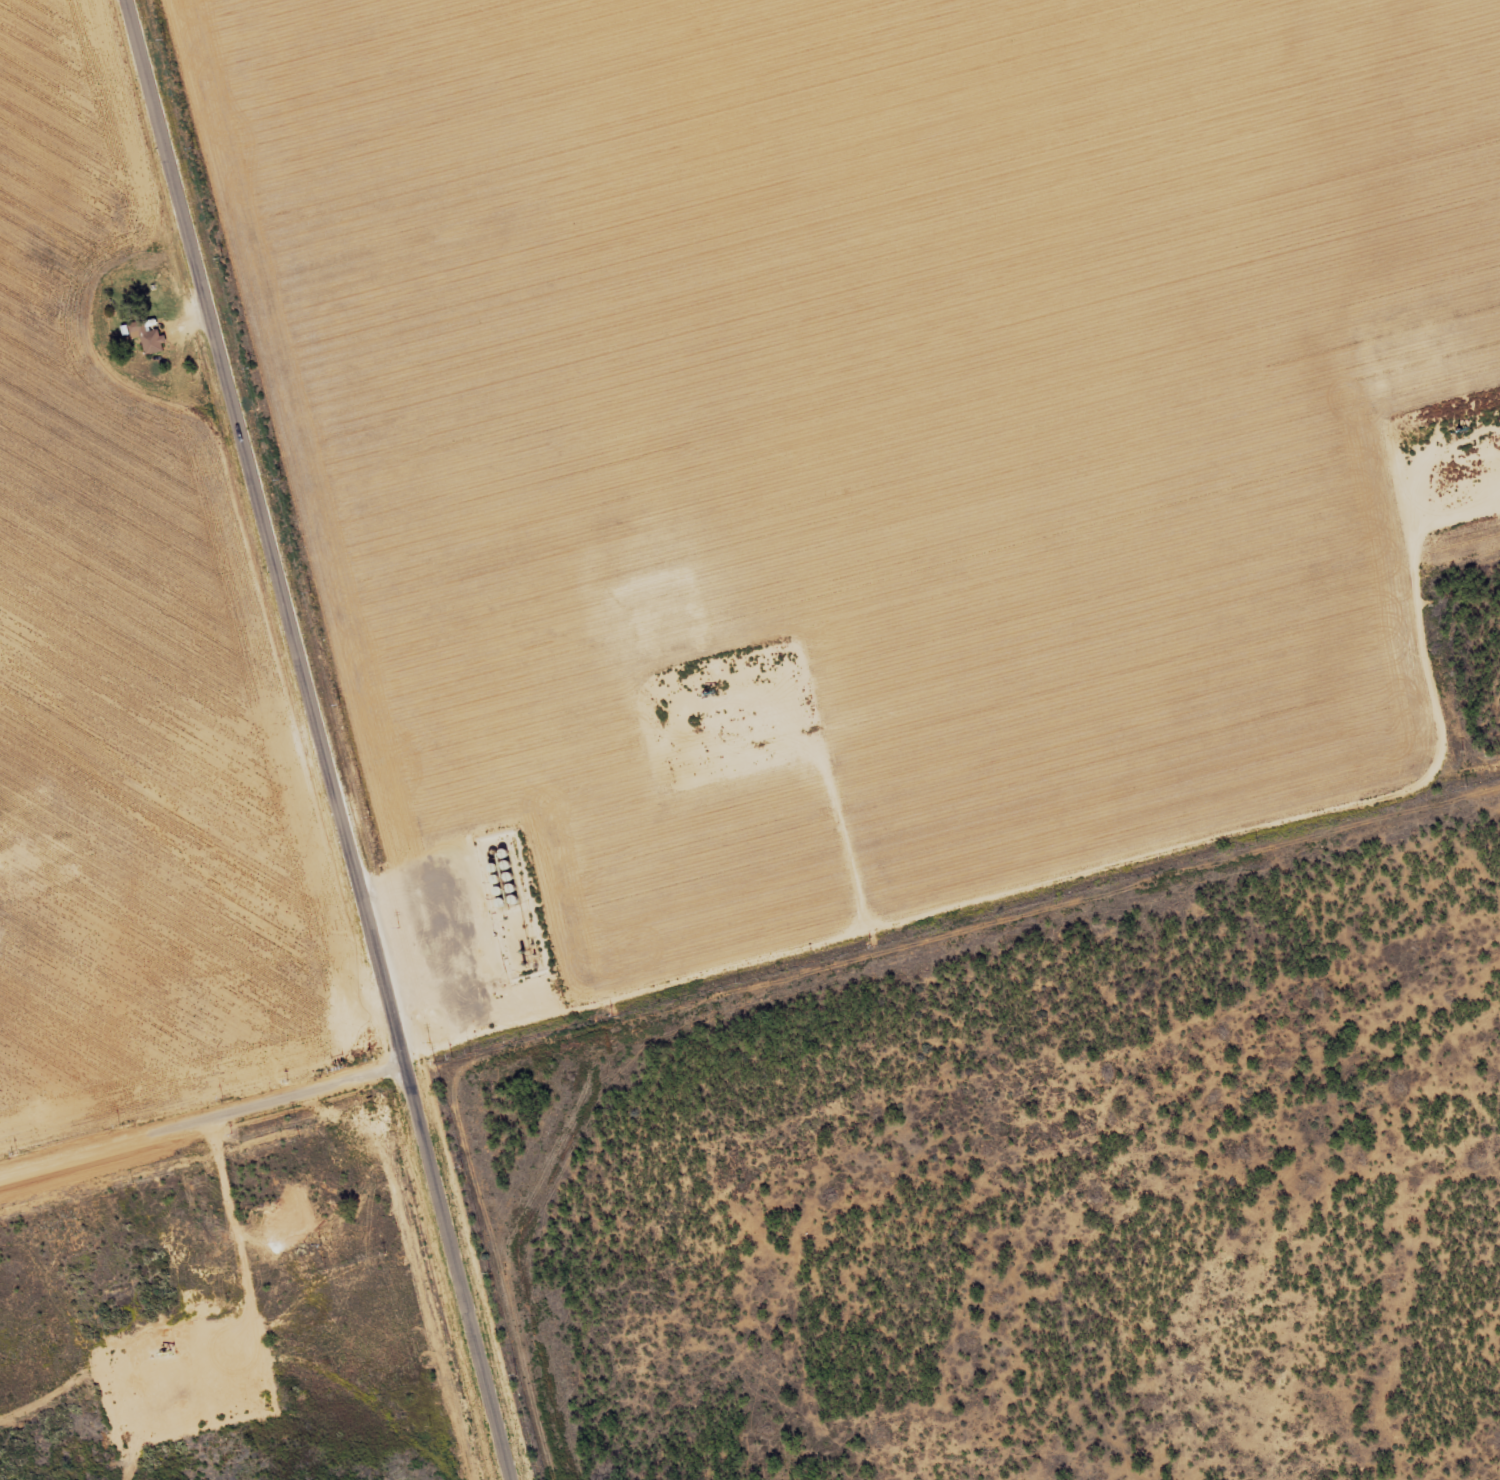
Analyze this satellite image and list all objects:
building: (150, 335)
road: (245, 537)
road: (386, 1105)
road: (191, 1161)
road: (448, 1301)

